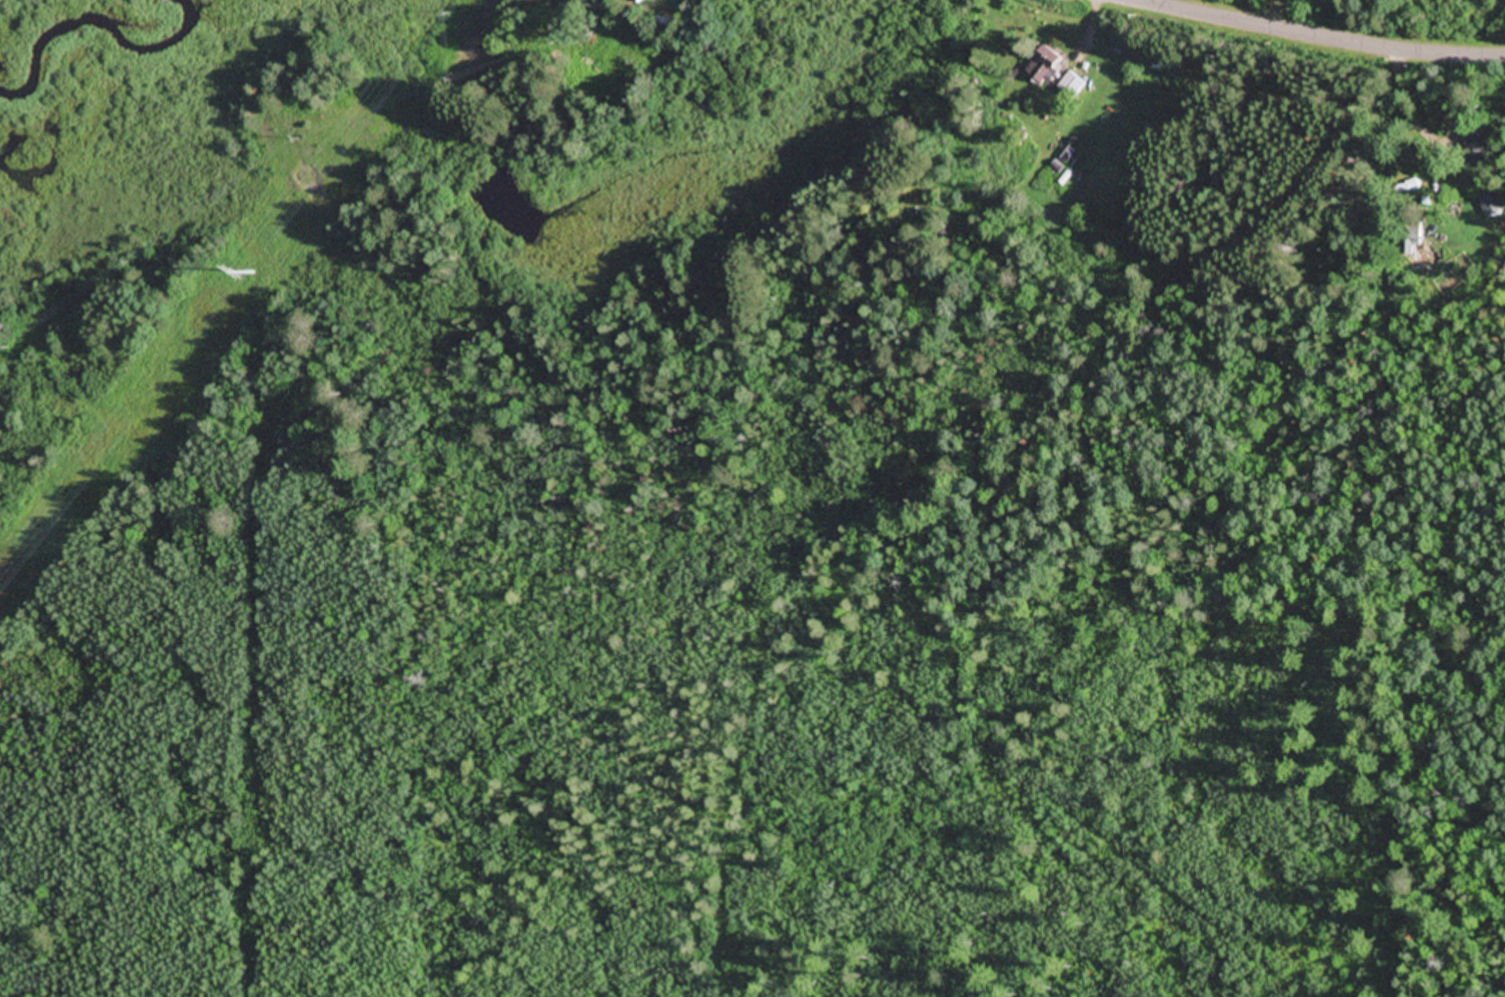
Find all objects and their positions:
building: (640, 1)
road: (1322, 35)
building: (1046, 69)
building: (1073, 86)
building: (1474, 143)
building: (1492, 205)
power tower: (251, 274)

